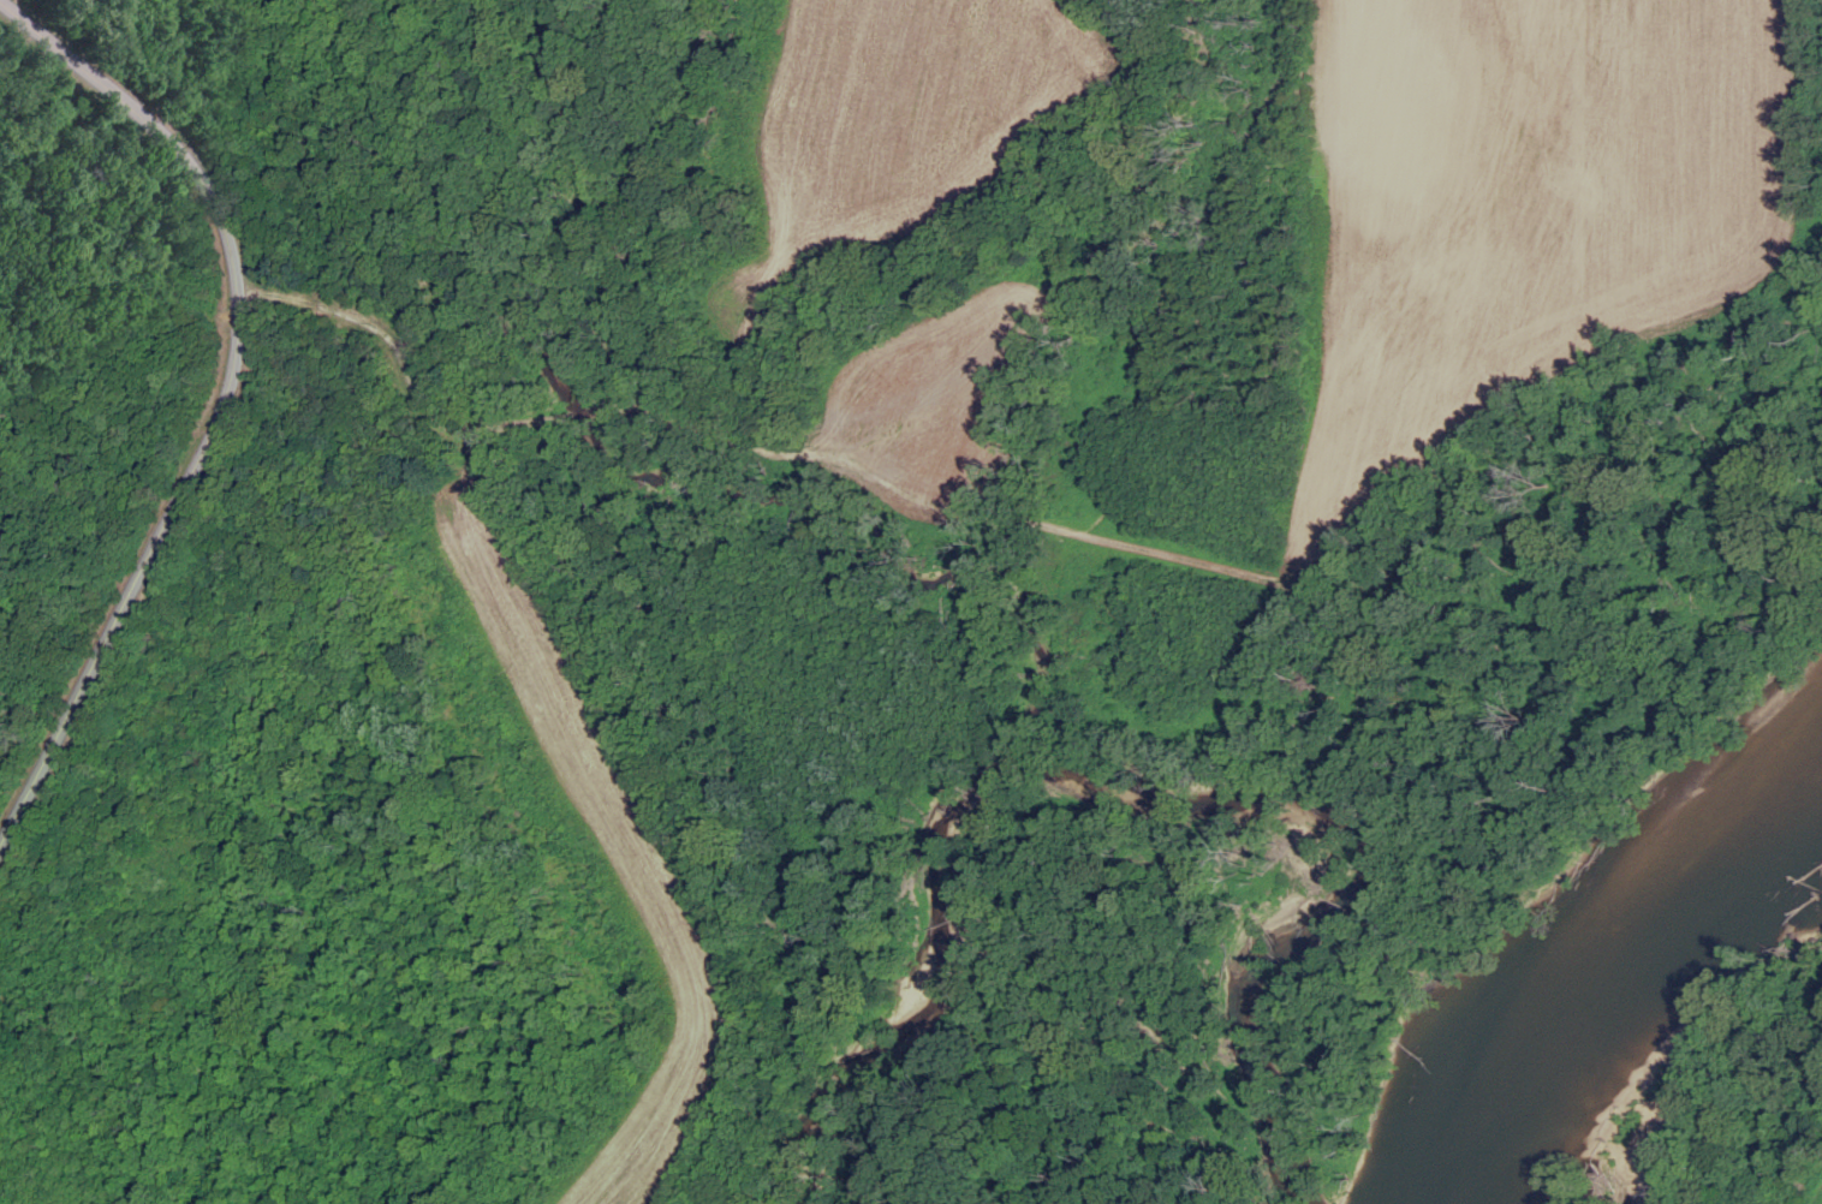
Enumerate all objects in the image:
road: (388, 348)
road: (224, 400)
road: (492, 491)
river: (1604, 952)

